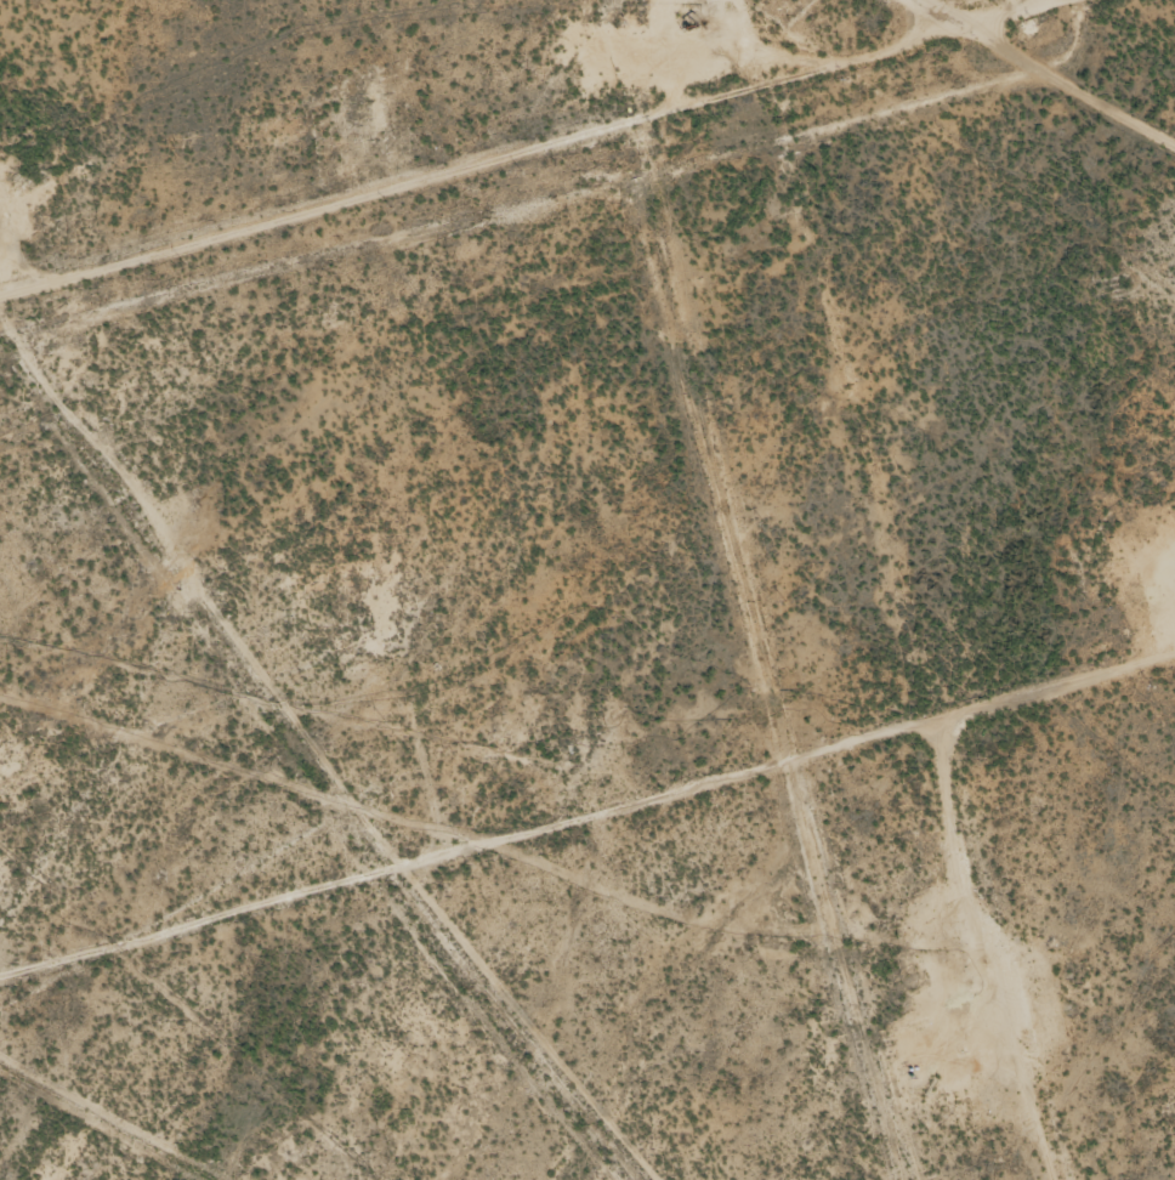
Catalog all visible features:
road: (1049, 72)
road: (530, 142)

